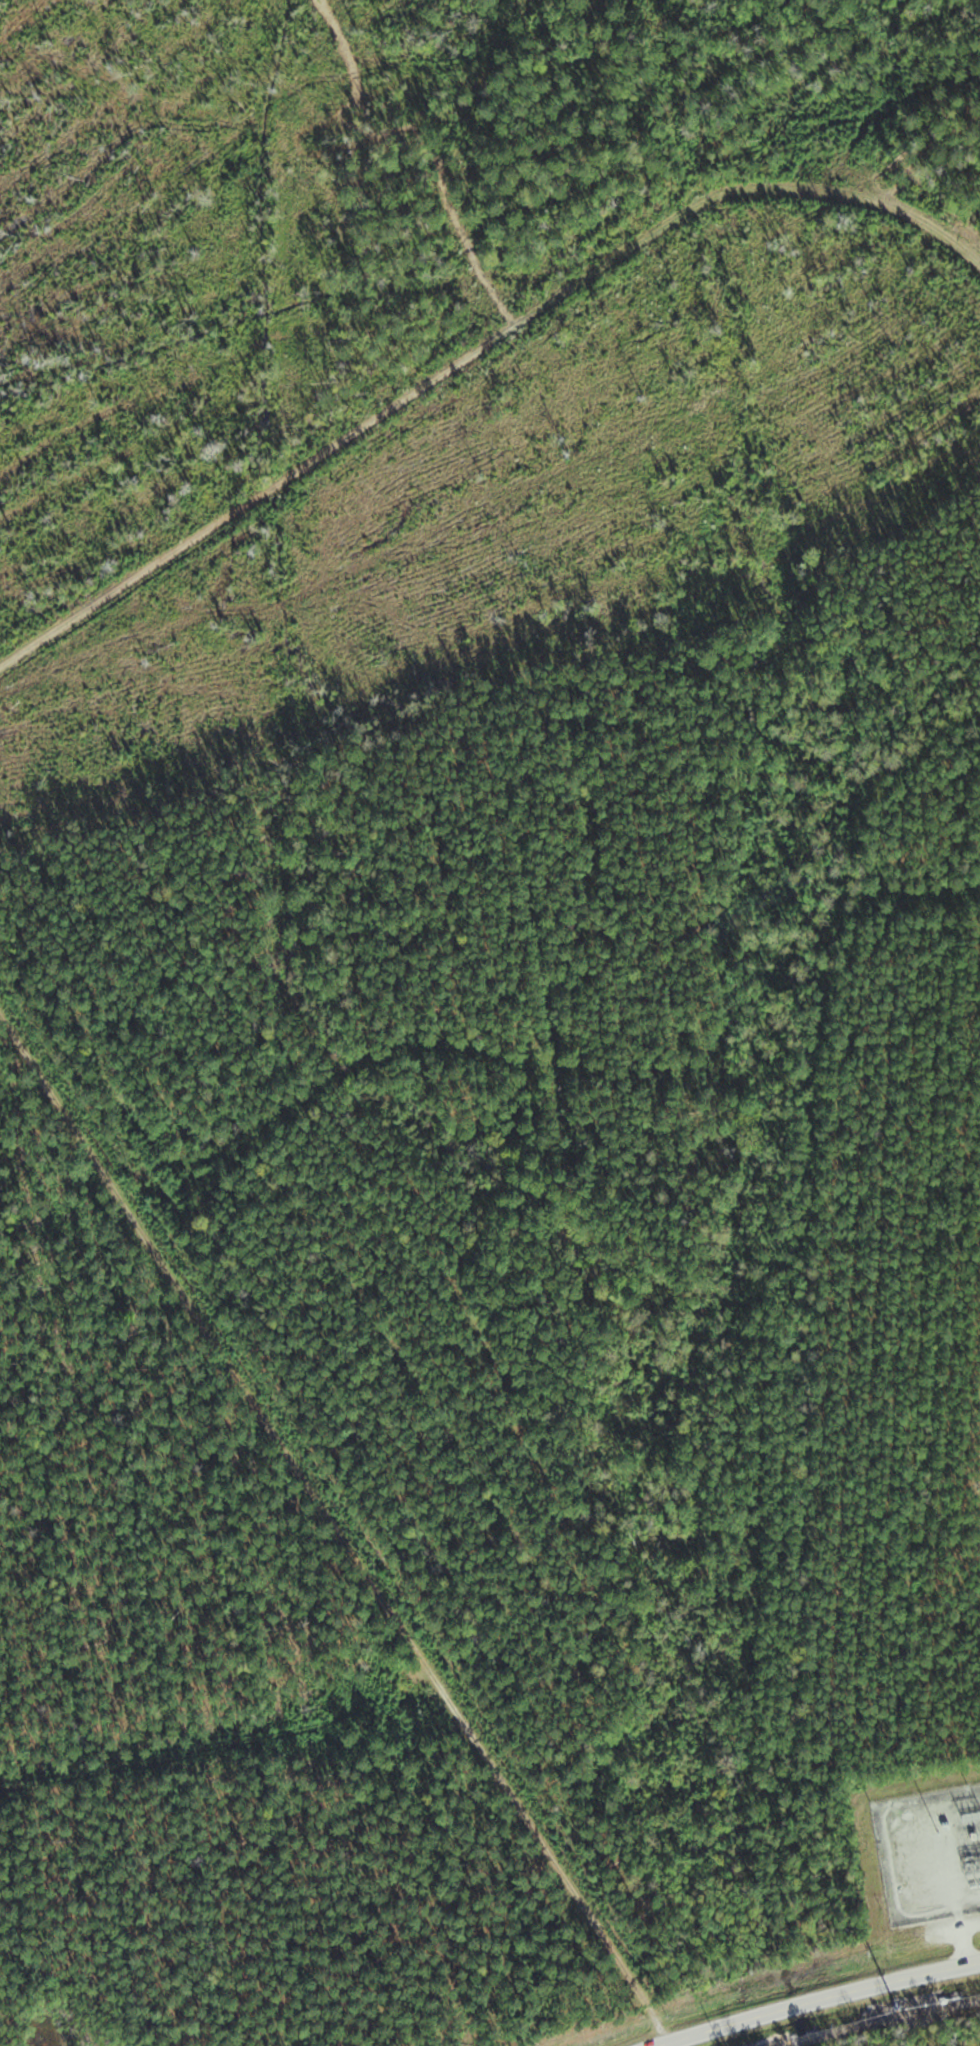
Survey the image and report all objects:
road: (831, 2001)

